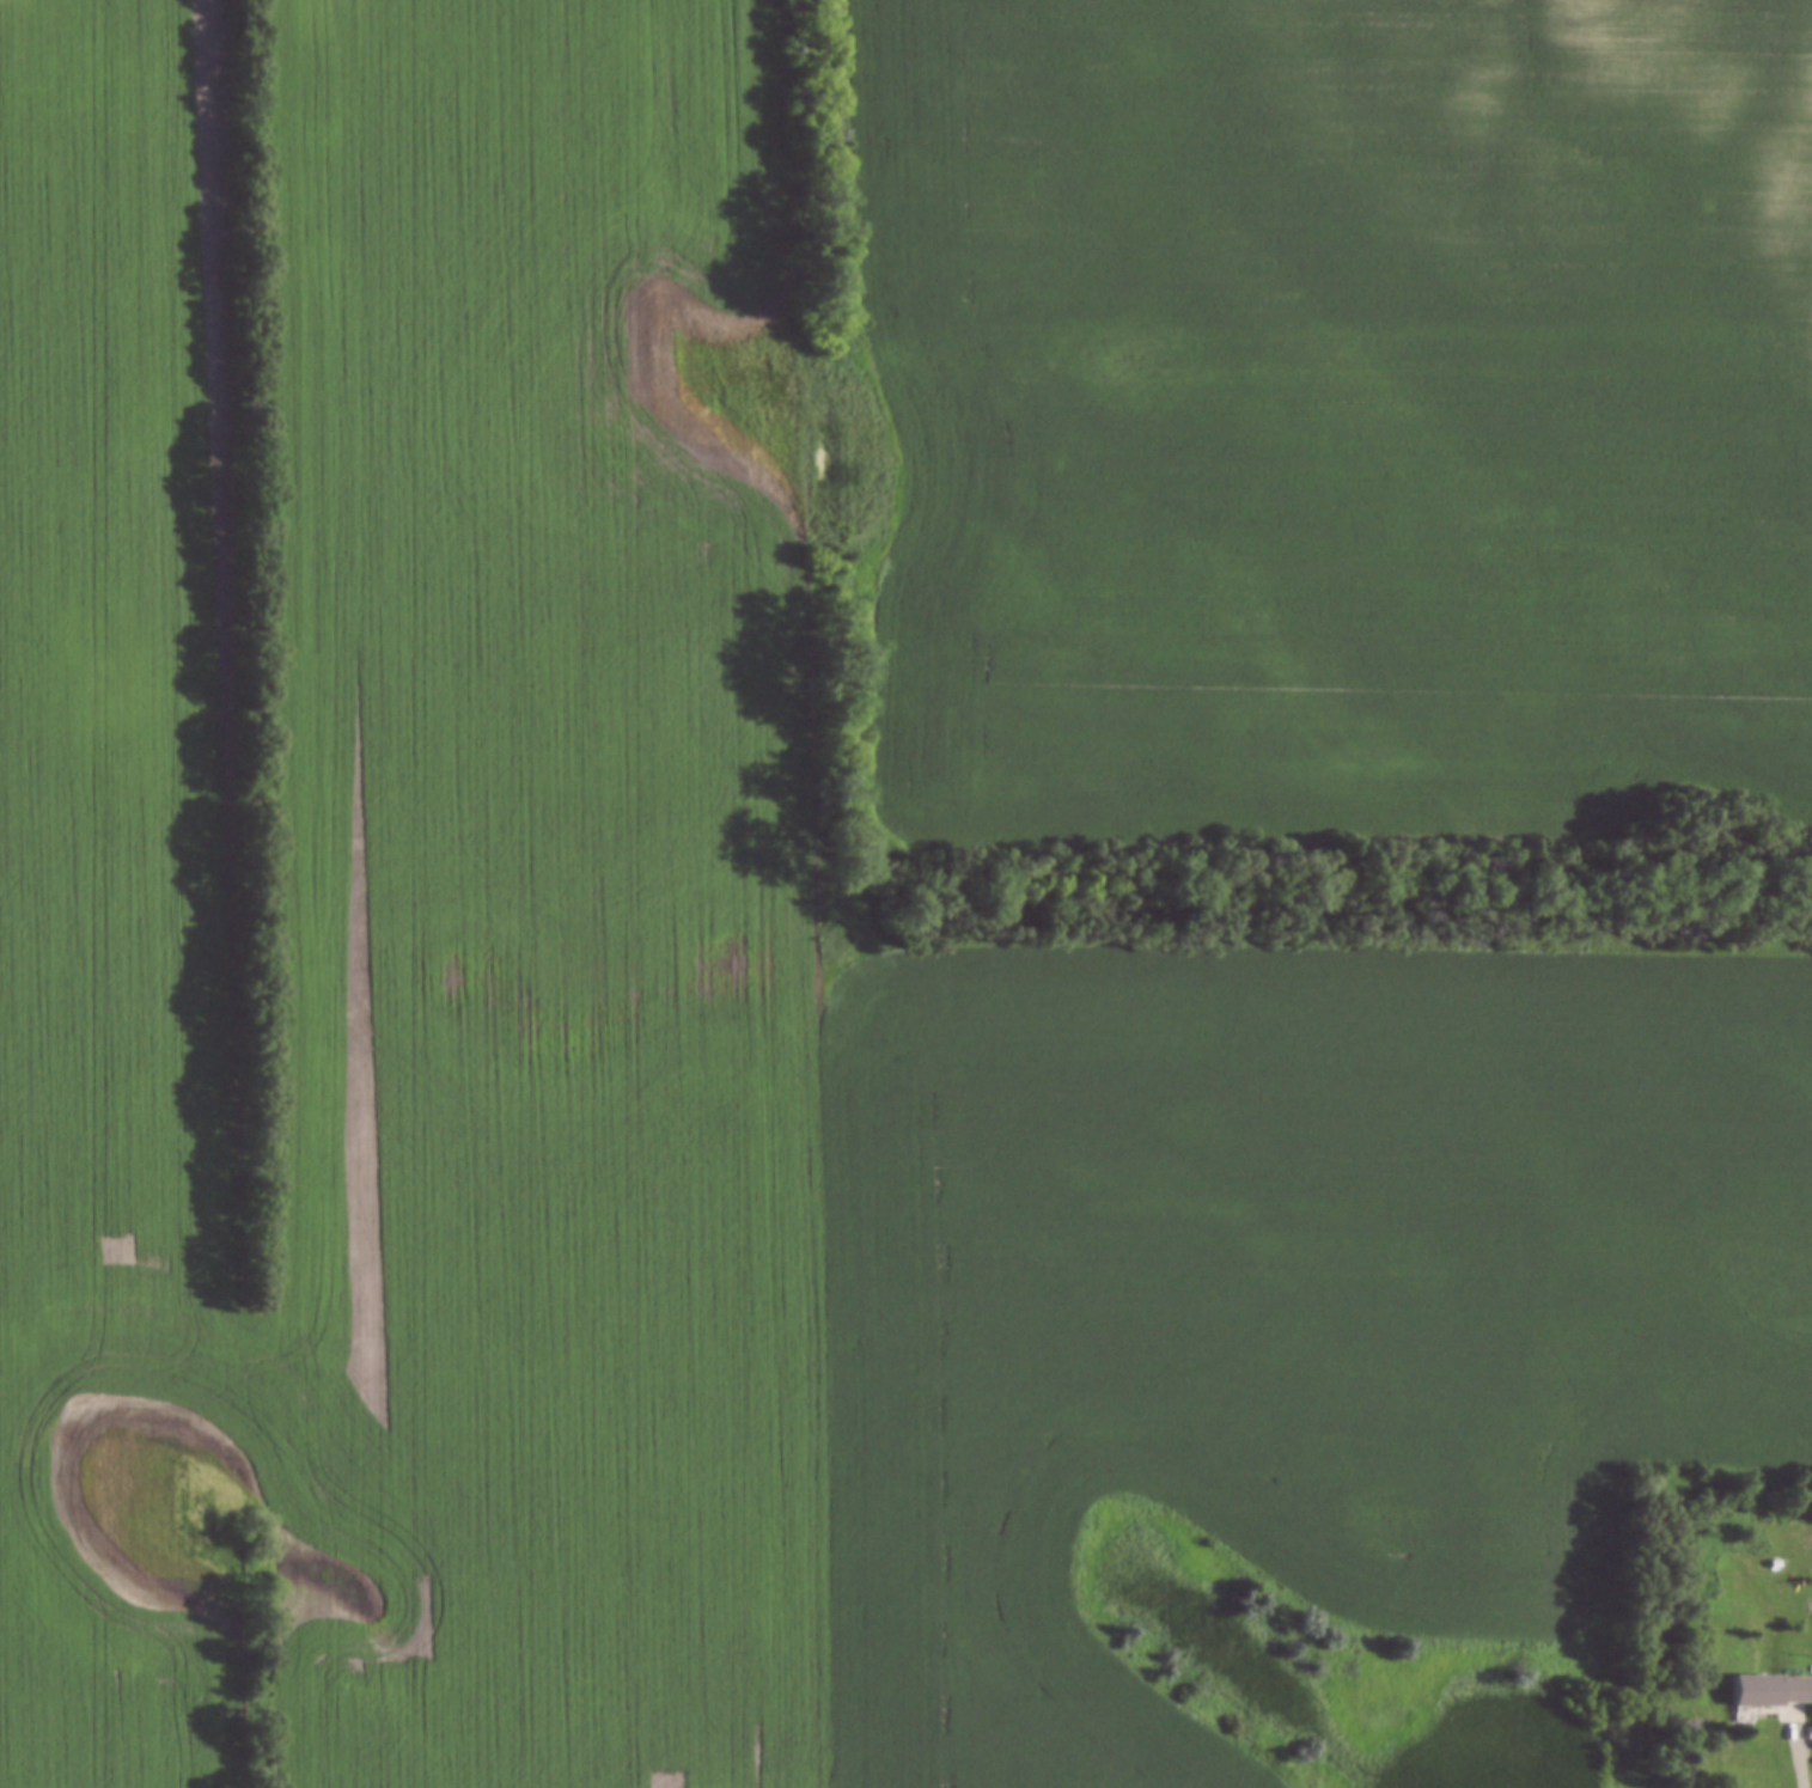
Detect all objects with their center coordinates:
building: (1769, 1690)
road: (1799, 1756)

